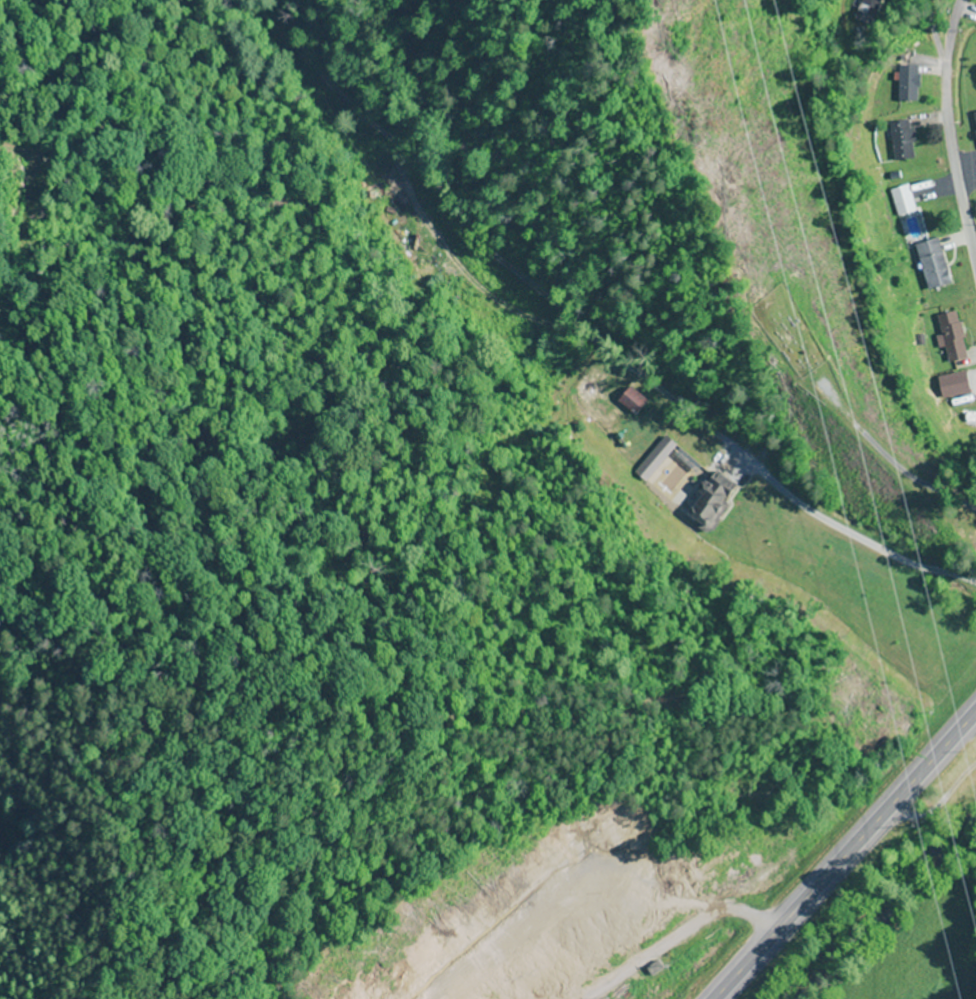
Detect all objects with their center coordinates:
road: (957, 121)
building: (974, 124)
building: (901, 138)
building: (930, 263)
building: (949, 337)
road: (846, 855)
road: (678, 936)
building: (651, 968)

